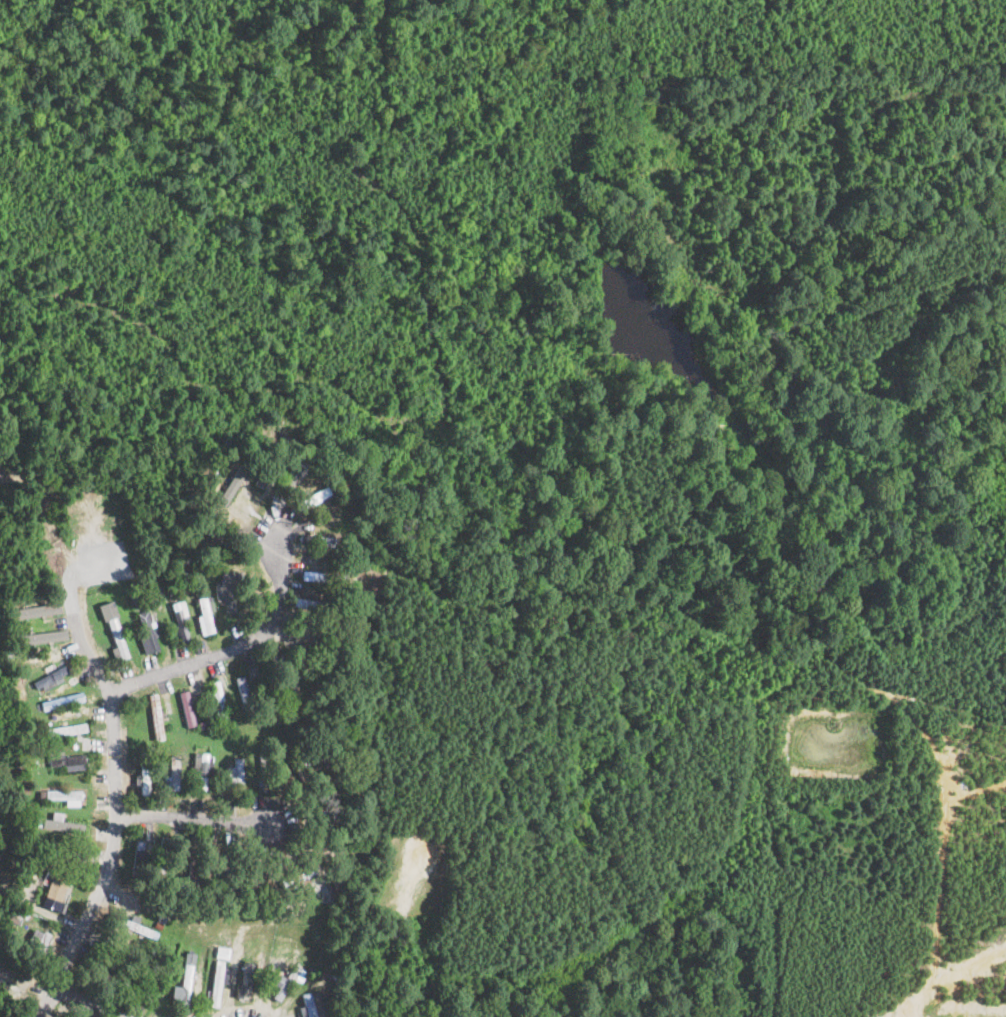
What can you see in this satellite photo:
building: (313, 497)
building: (226, 590)
building: (36, 610)
building: (206, 613)
building: (181, 619)
building: (115, 629)
building: (148, 629)
building: (42, 636)
road: (241, 643)
building: (50, 677)
building: (243, 688)
building: (62, 700)
building: (218, 701)
building: (187, 707)
building: (156, 716)
building: (65, 729)
building: (67, 759)
building: (201, 767)
building: (235, 772)
building: (173, 773)
building: (145, 780)
building: (65, 795)
road: (119, 806)
road: (191, 818)
building: (63, 824)
building: (307, 872)
building: (56, 891)
building: (326, 895)
building: (39, 937)
building: (4, 977)
building: (184, 980)
building: (218, 980)
building: (245, 982)
building: (314, 1004)
road: (93, 1008)

